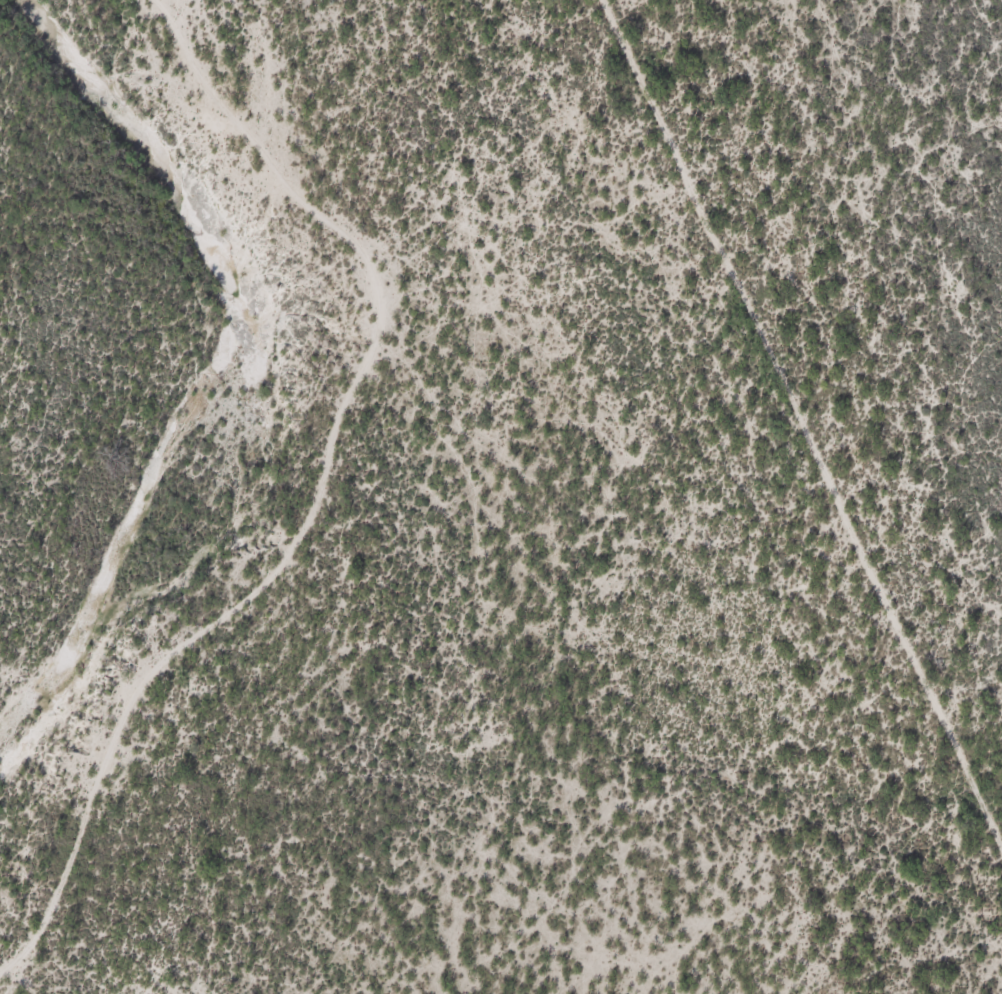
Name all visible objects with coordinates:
road: (798, 428)

